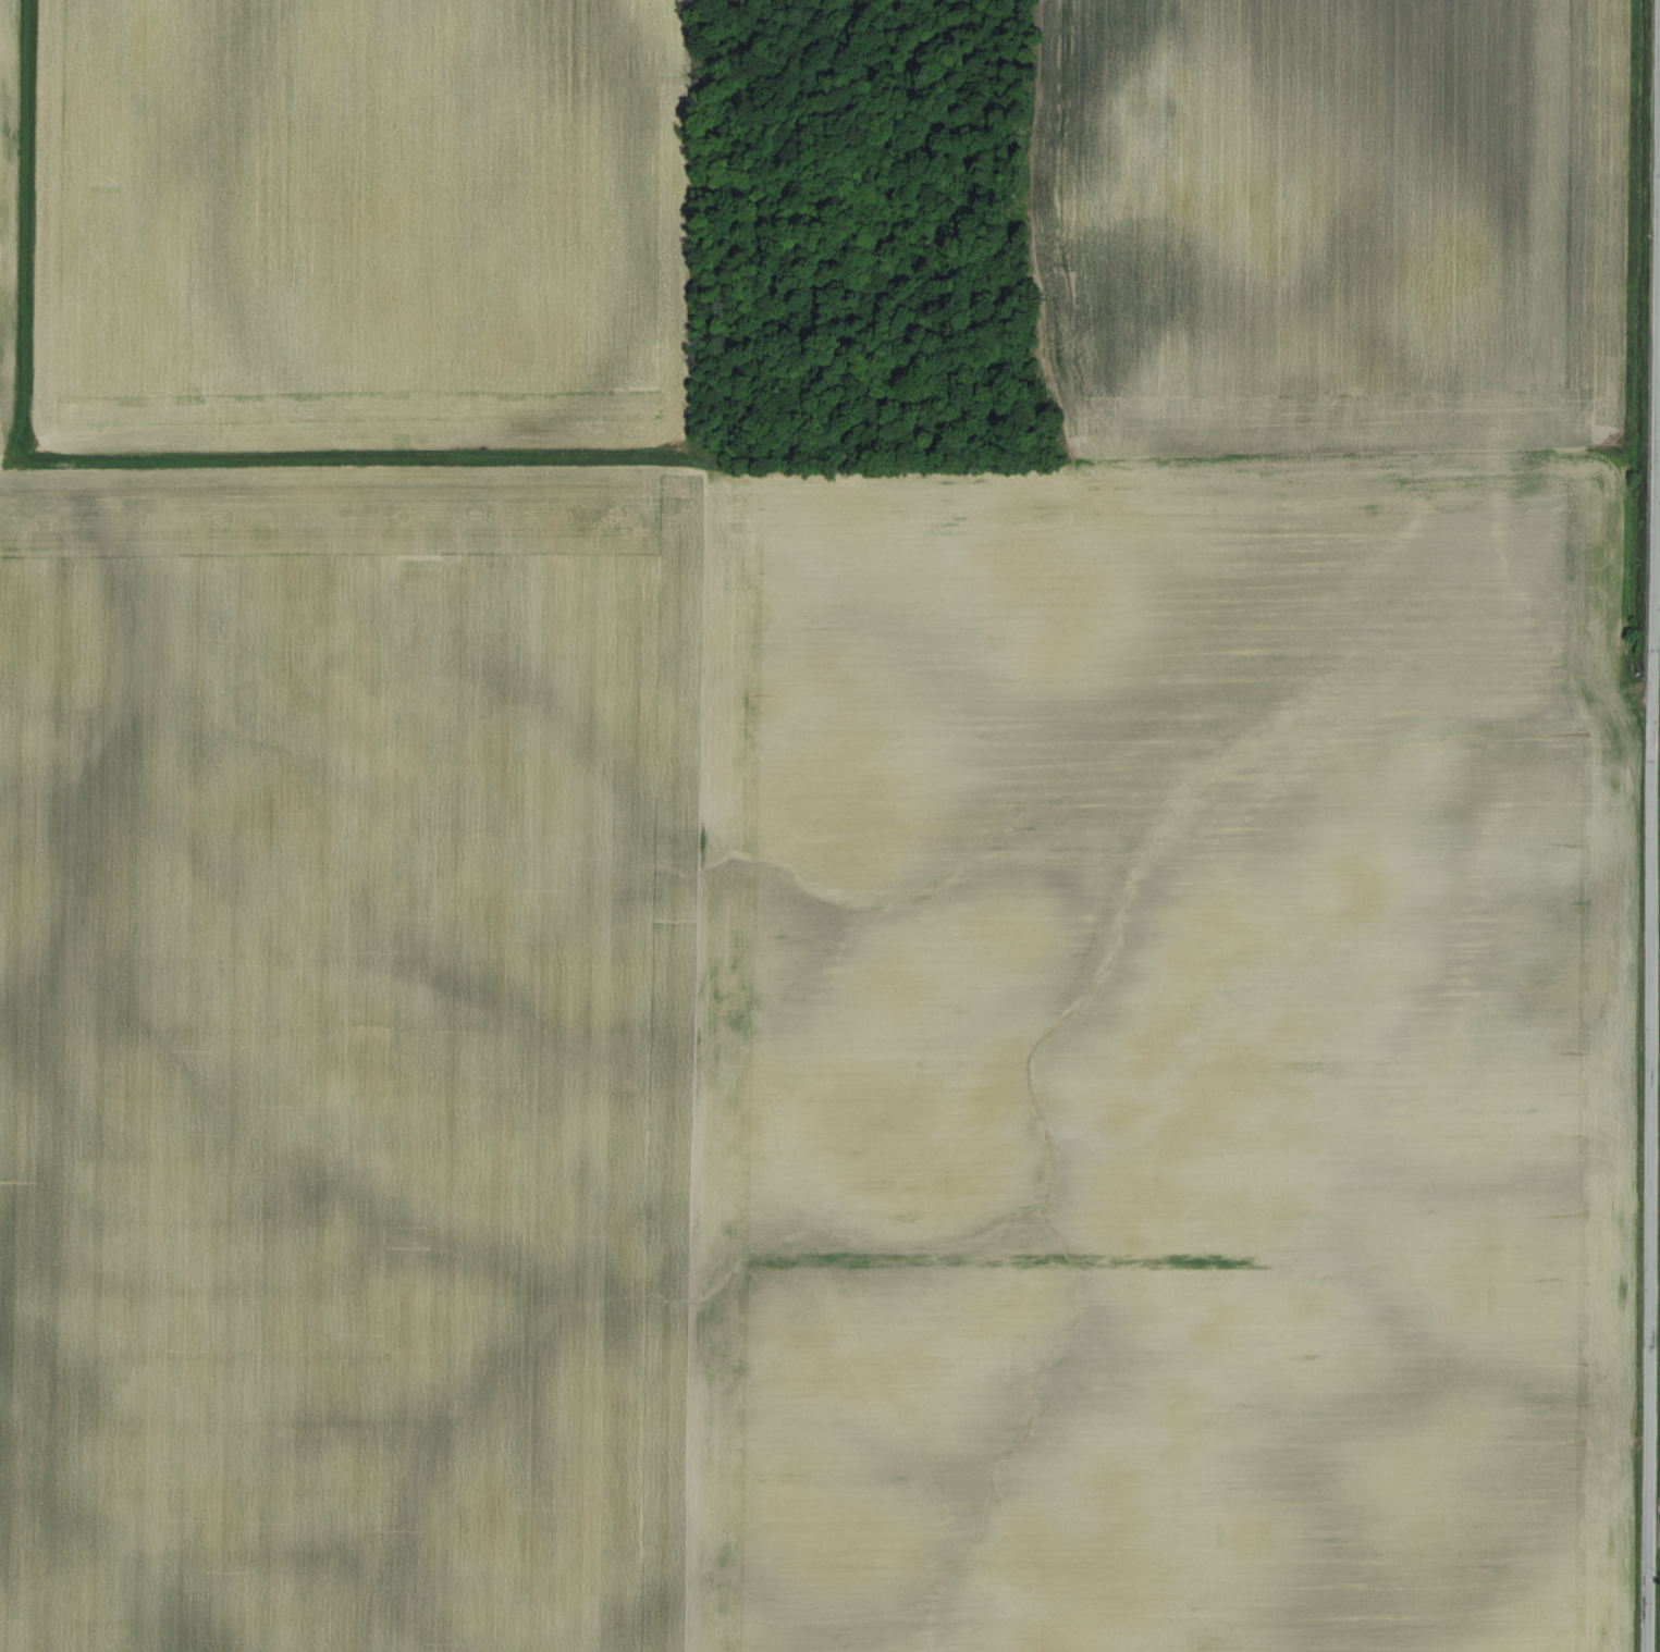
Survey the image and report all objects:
road: (1653, 909)

